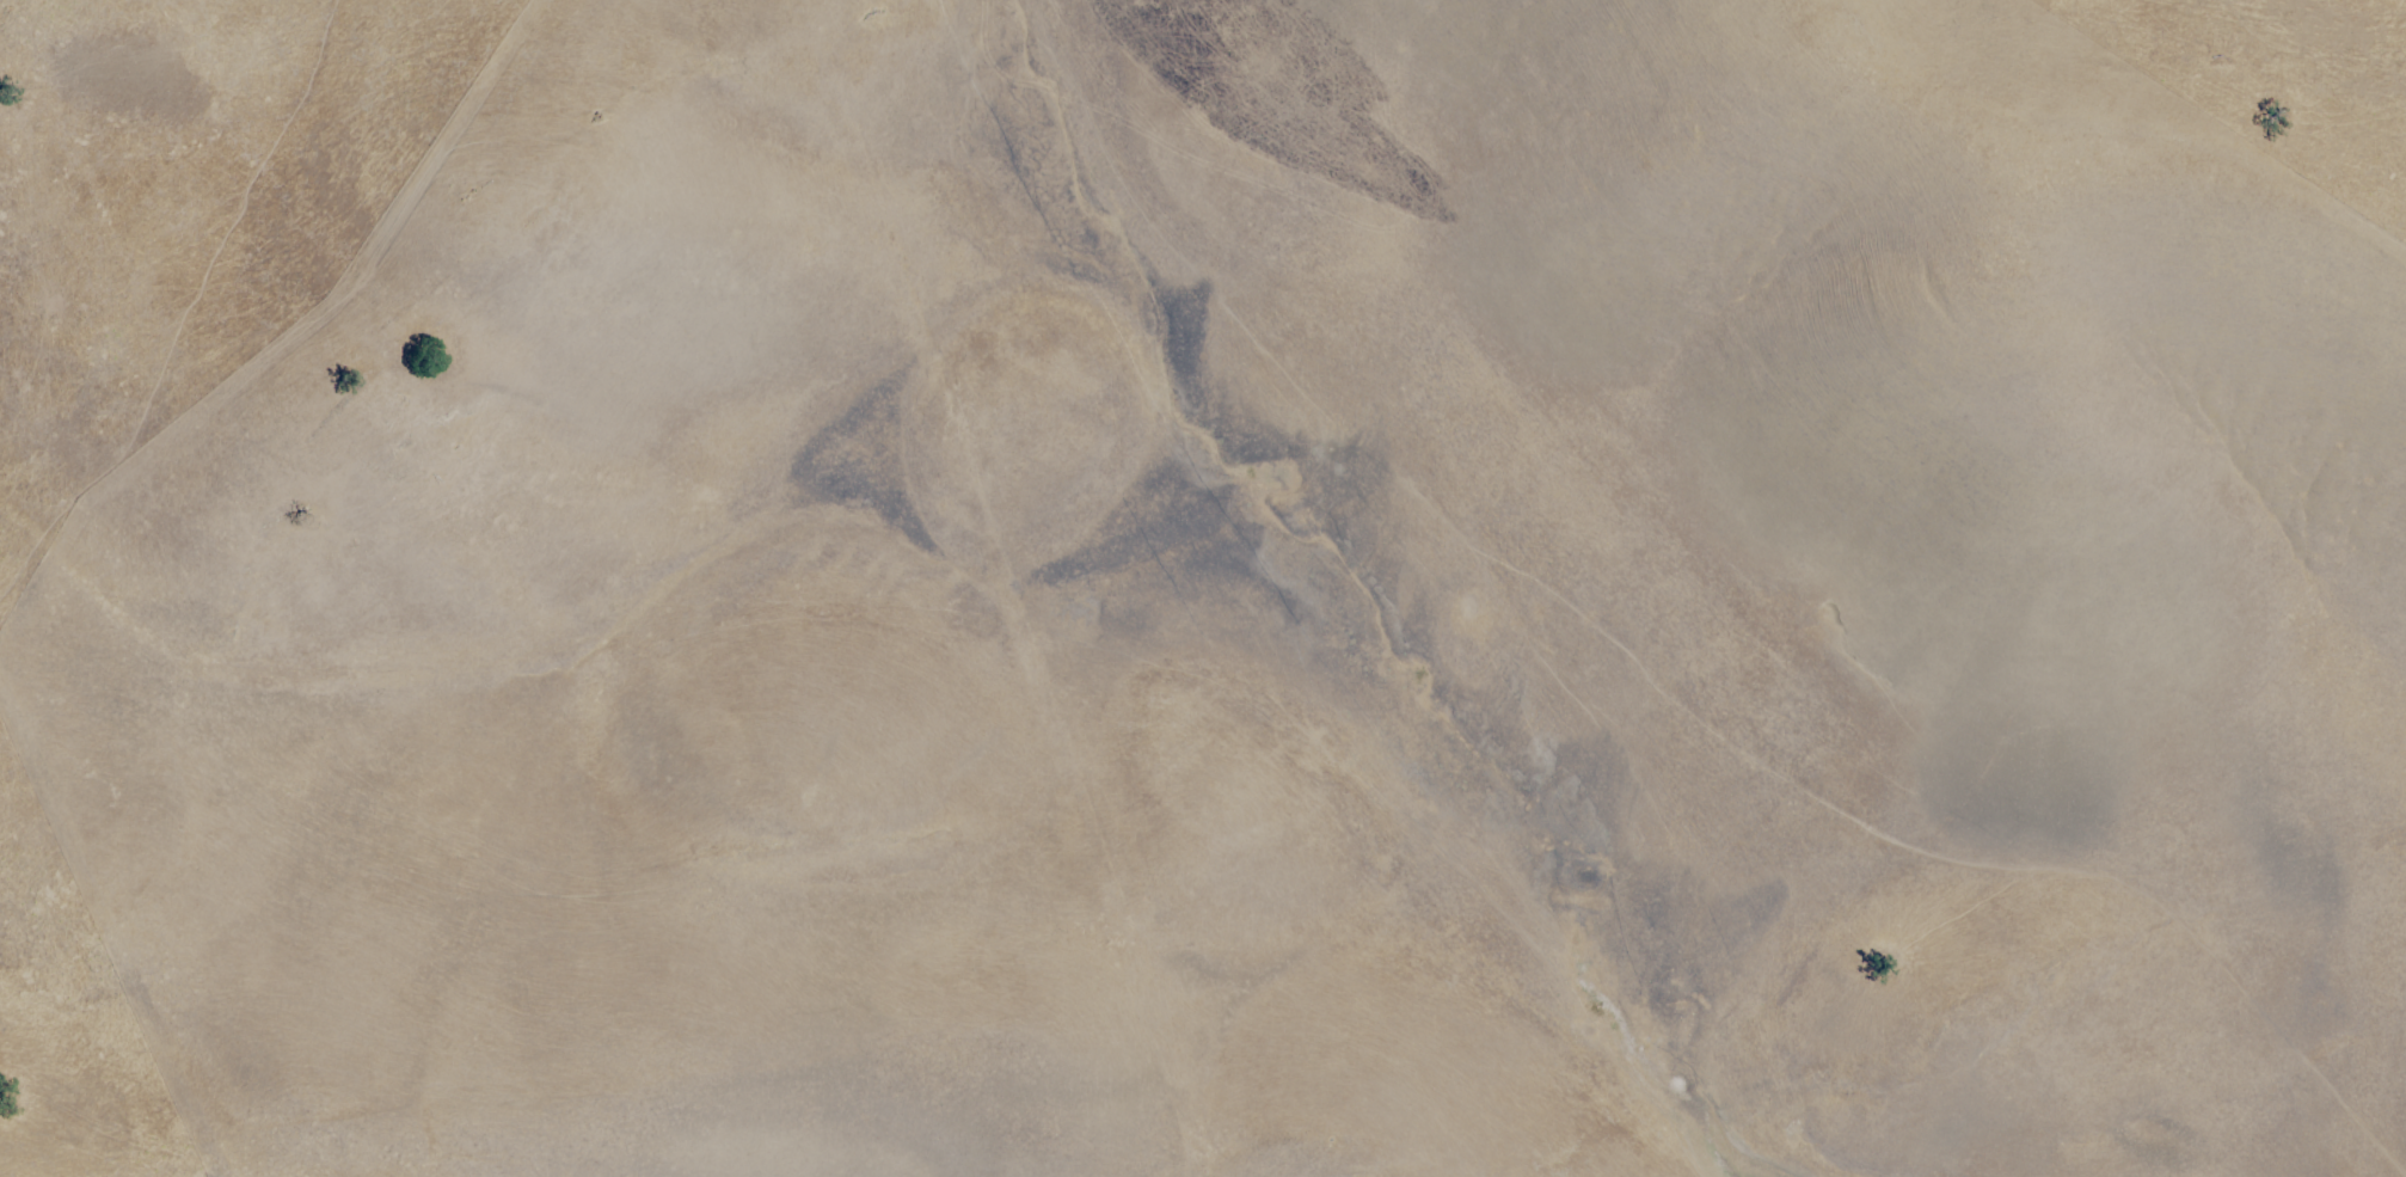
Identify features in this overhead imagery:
park: (2279, 82)
park: (192, 201)
park: (59, 1035)

